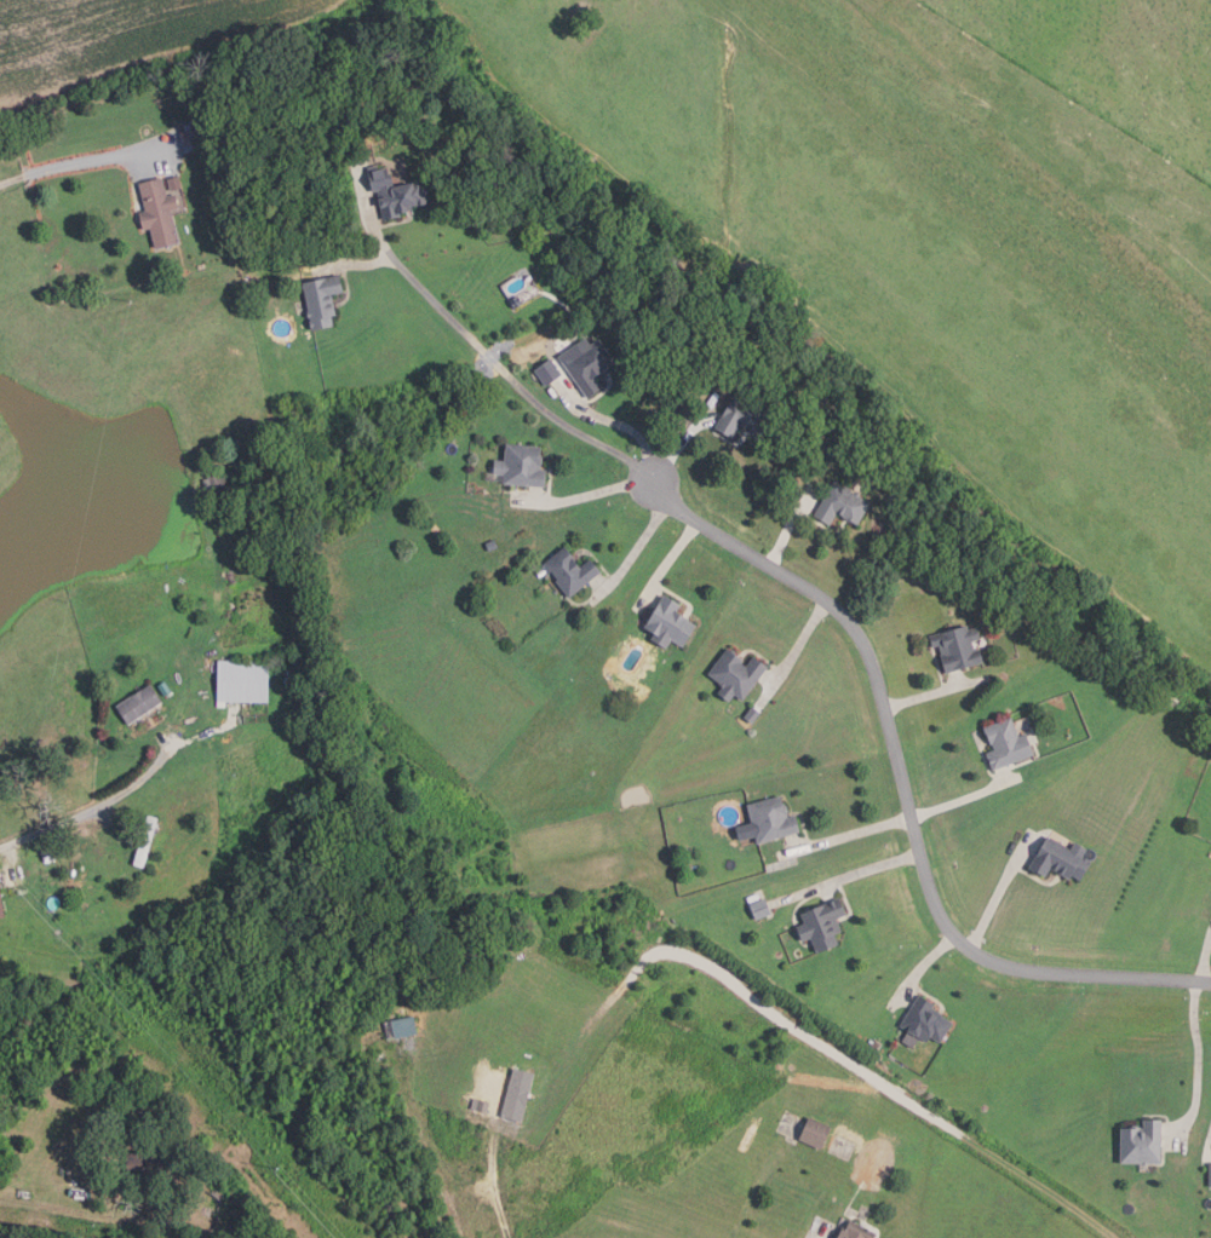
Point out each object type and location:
building: (191, 137)
road: (40, 171)
building: (173, 182)
building: (395, 191)
road: (371, 206)
building: (157, 212)
building: (559, 261)
road: (357, 264)
building: (321, 299)
building: (586, 363)
building: (547, 372)
road: (511, 376)
building: (742, 416)
road: (619, 421)
road: (685, 438)
building: (521, 465)
building: (216, 483)
road: (585, 496)
building: (842, 505)
road: (791, 526)
building: (492, 543)
road: (636, 552)
road: (666, 564)
building: (569, 570)
building: (668, 622)
building: (957, 647)
road: (794, 653)
building: (735, 674)
building: (242, 681)
road: (936, 692)
building: (138, 704)
building: (752, 714)
building: (1006, 743)
road: (161, 755)
road: (905, 790)
road: (80, 813)
road: (902, 818)
building: (767, 820)
road: (114, 824)
building: (144, 841)
building: (48, 853)
building: (1060, 859)
road: (11, 864)
building: (74, 871)
road: (849, 876)
road: (998, 893)
building: (761, 908)
building: (1, 909)
building: (821, 925)
road: (1205, 958)
road: (922, 968)
building: (924, 1023)
building: (400, 1027)
road: (1199, 1060)
building: (517, 1094)
building: (481, 1105)
building: (815, 1133)
building: (1142, 1142)
building: (144, 1164)
power tower: (279, 1167)
building: (1210, 1173)
road: (494, 1188)
road: (57, 1192)
building: (854, 1230)
road: (817, 1233)

